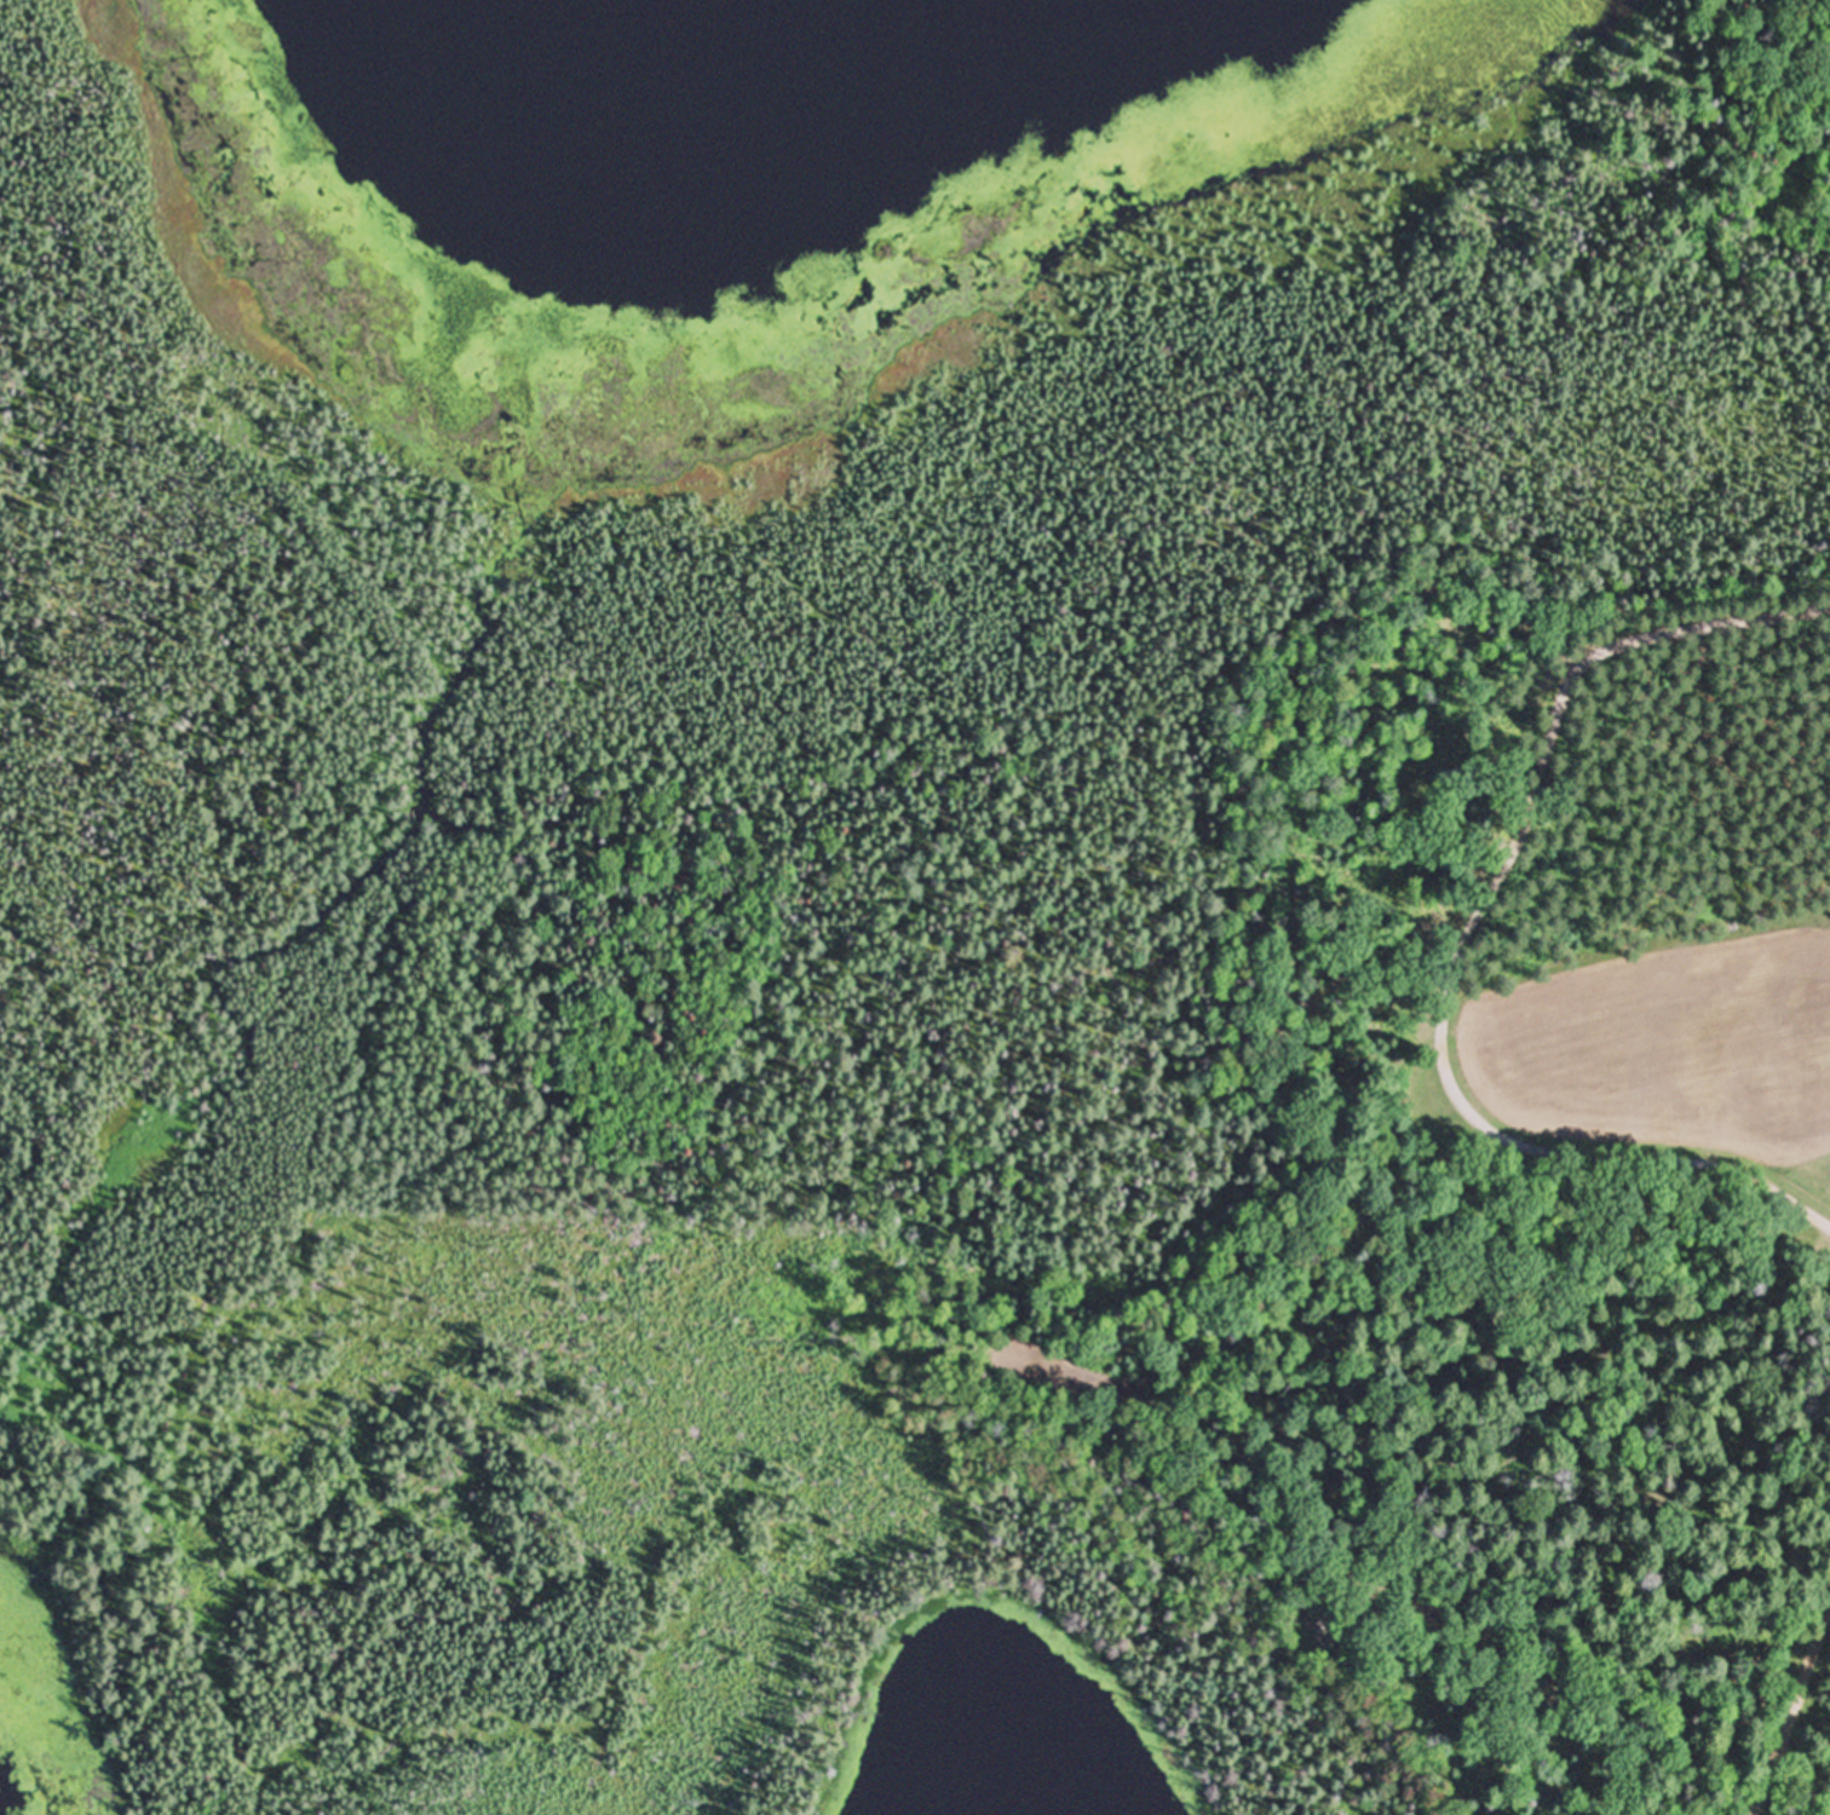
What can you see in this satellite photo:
road: (1782, 1702)

